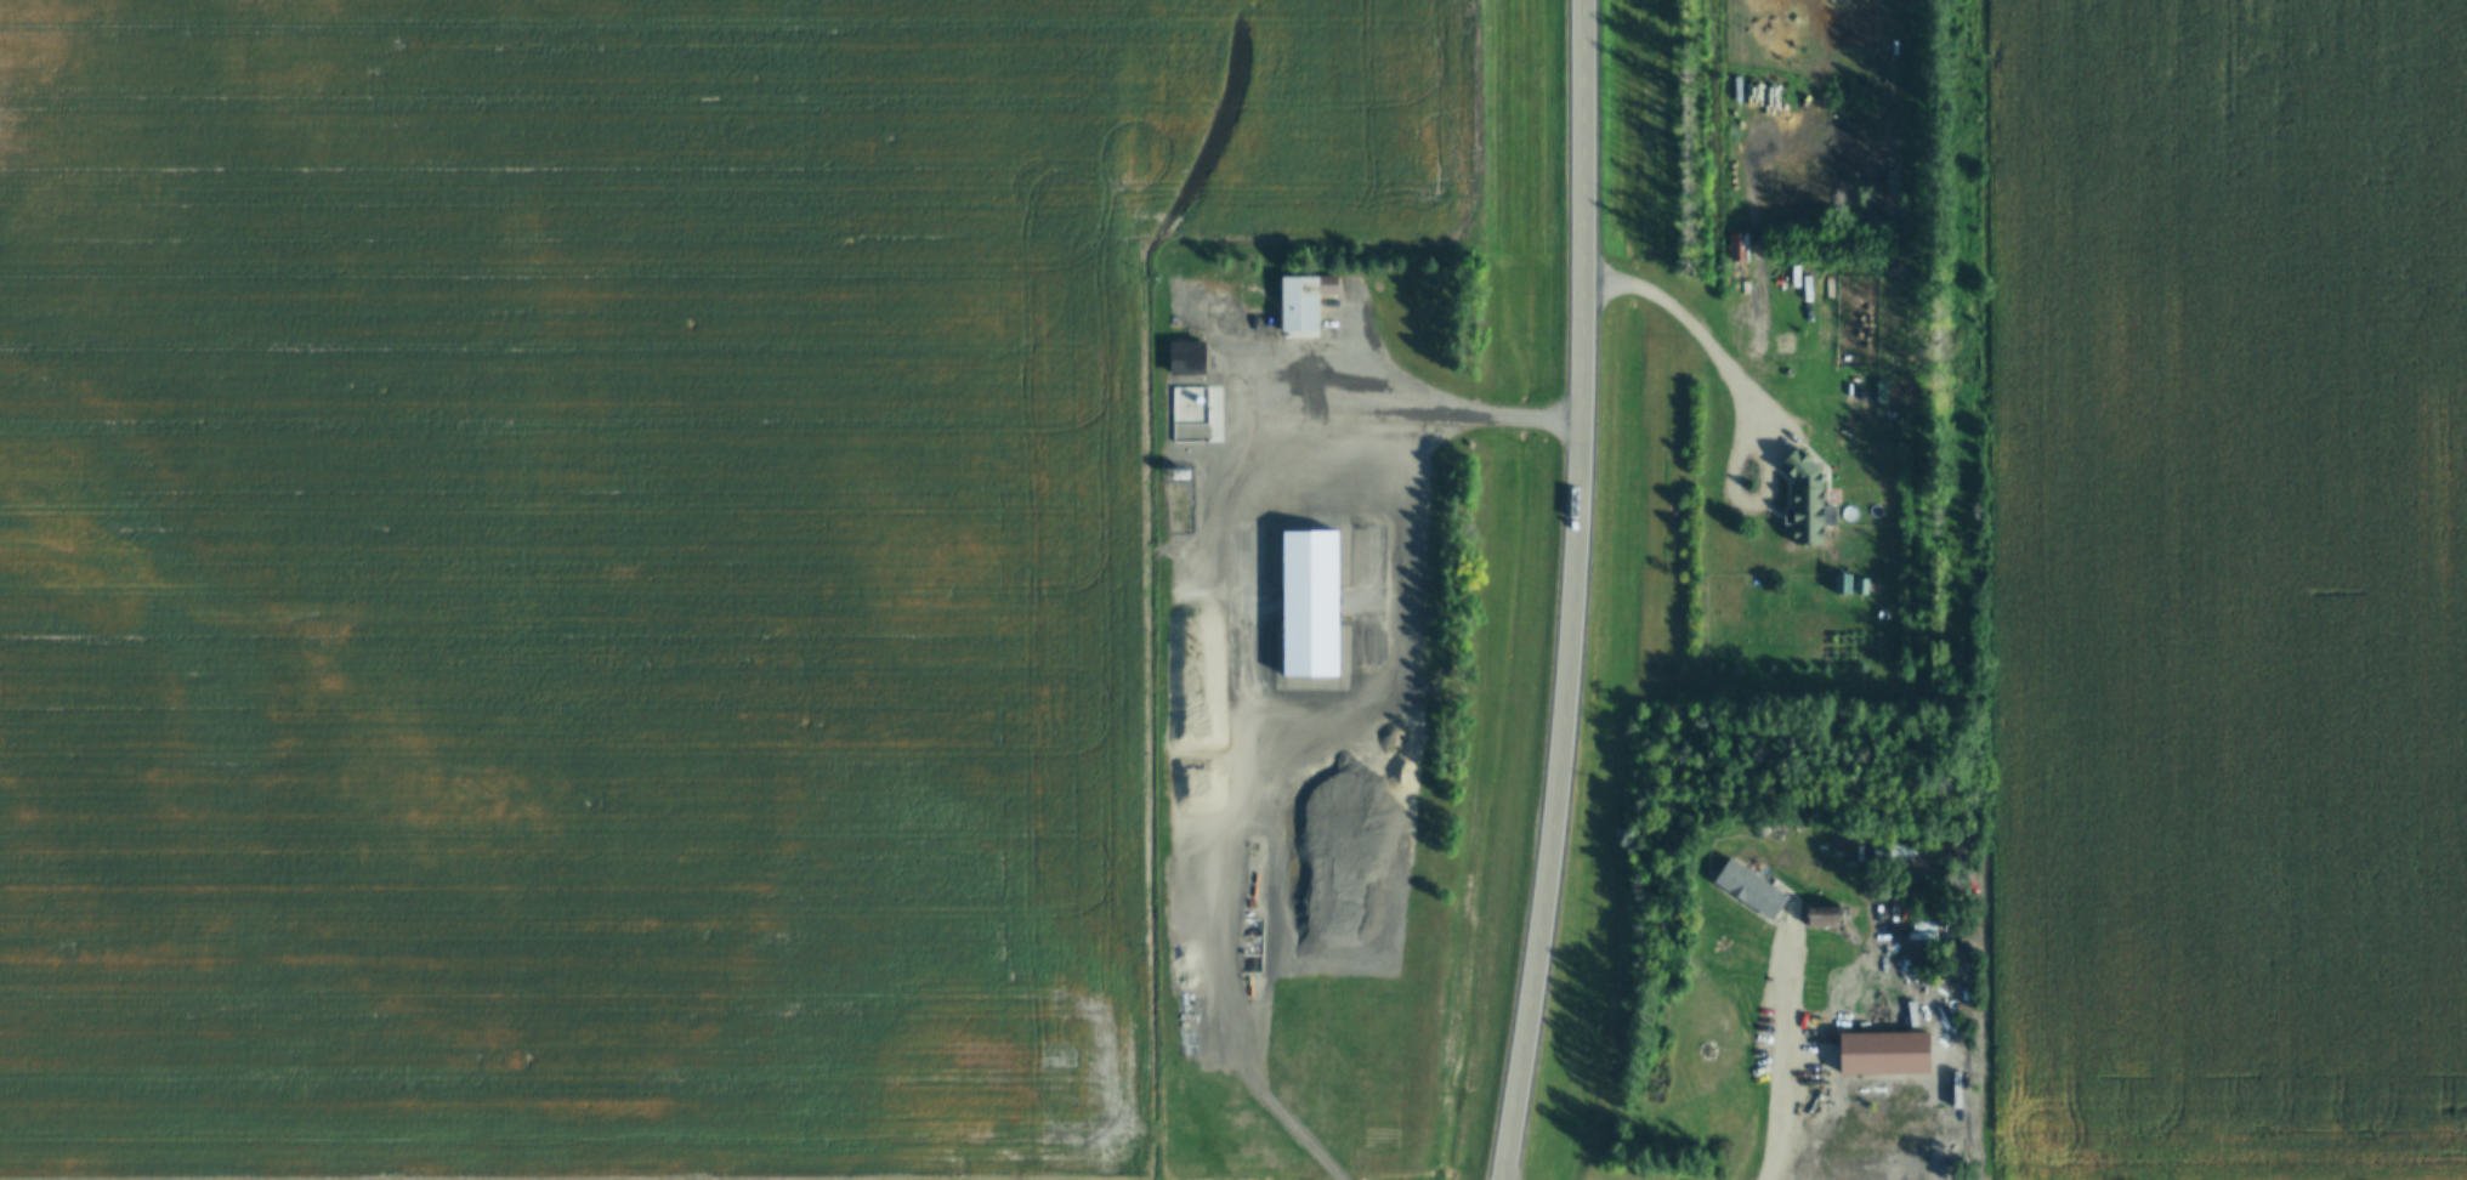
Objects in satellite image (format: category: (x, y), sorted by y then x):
building: (1893, 181)
building: (1737, 246)
building: (1304, 303)
road: (1702, 329)
building: (1185, 357)
road: (1459, 410)
building: (1805, 500)
road: (1580, 591)
building: (1902, 852)
building: (1751, 890)
building: (1826, 918)
road: (1790, 1028)
building: (1887, 1055)
building: (1817, 1104)
road: (1277, 1107)
building: (1910, 1170)

